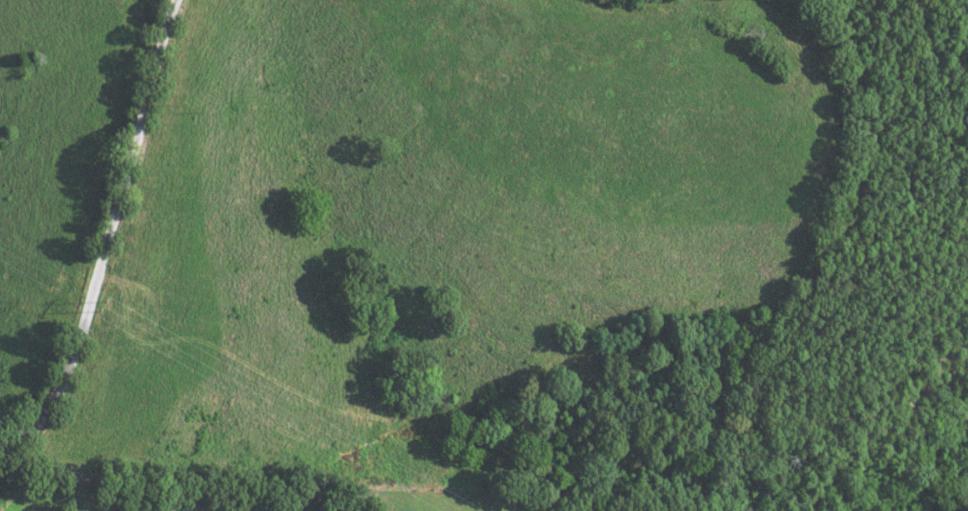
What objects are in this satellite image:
road: (107, 238)
power tower: (102, 309)

